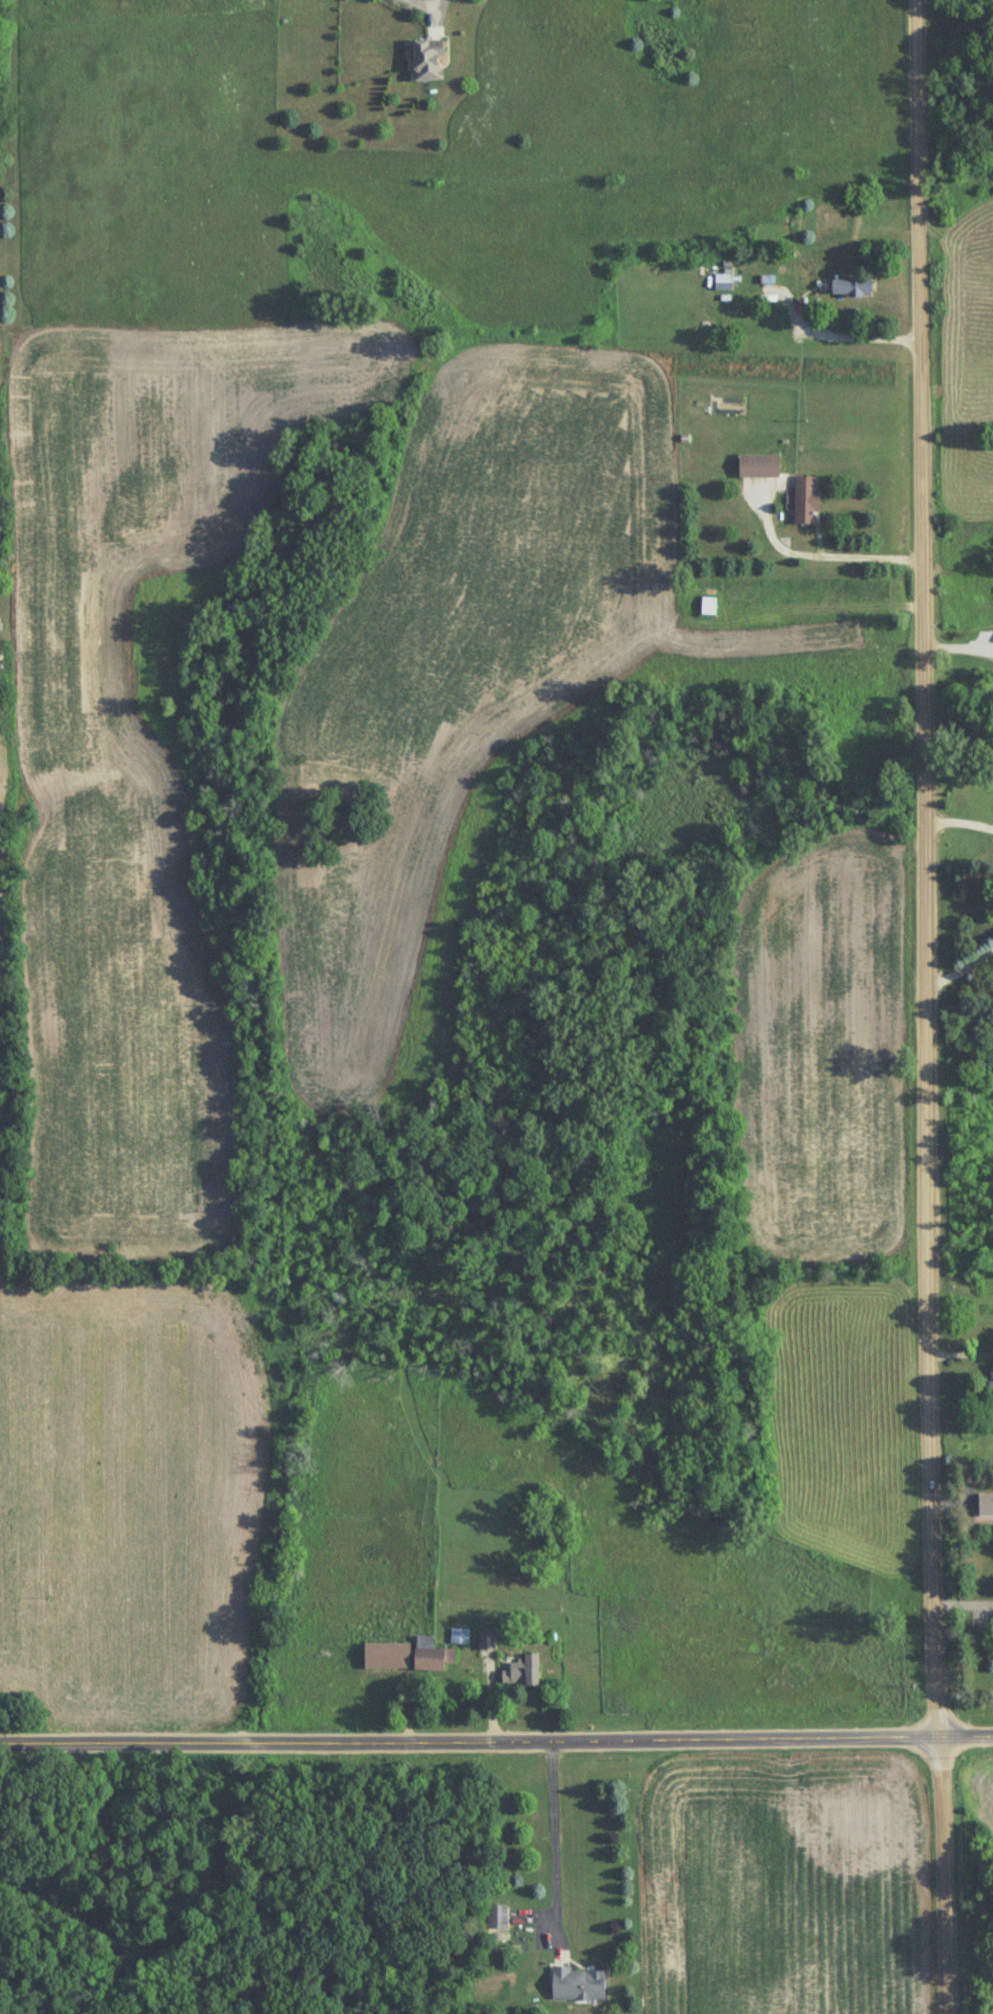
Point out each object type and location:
road: (441, 5)
building: (425, 61)
building: (727, 268)
building: (850, 288)
road: (857, 333)
building: (757, 467)
building: (805, 501)
road: (825, 560)
building: (708, 607)
road: (957, 823)
road: (960, 974)
road: (925, 1007)
building: (989, 1381)
building: (985, 1506)
building: (459, 1637)
building: (486, 1642)
building: (407, 1657)
building: (520, 1673)
road: (496, 1738)
road: (548, 1835)
building: (496, 1917)
building: (578, 1985)

